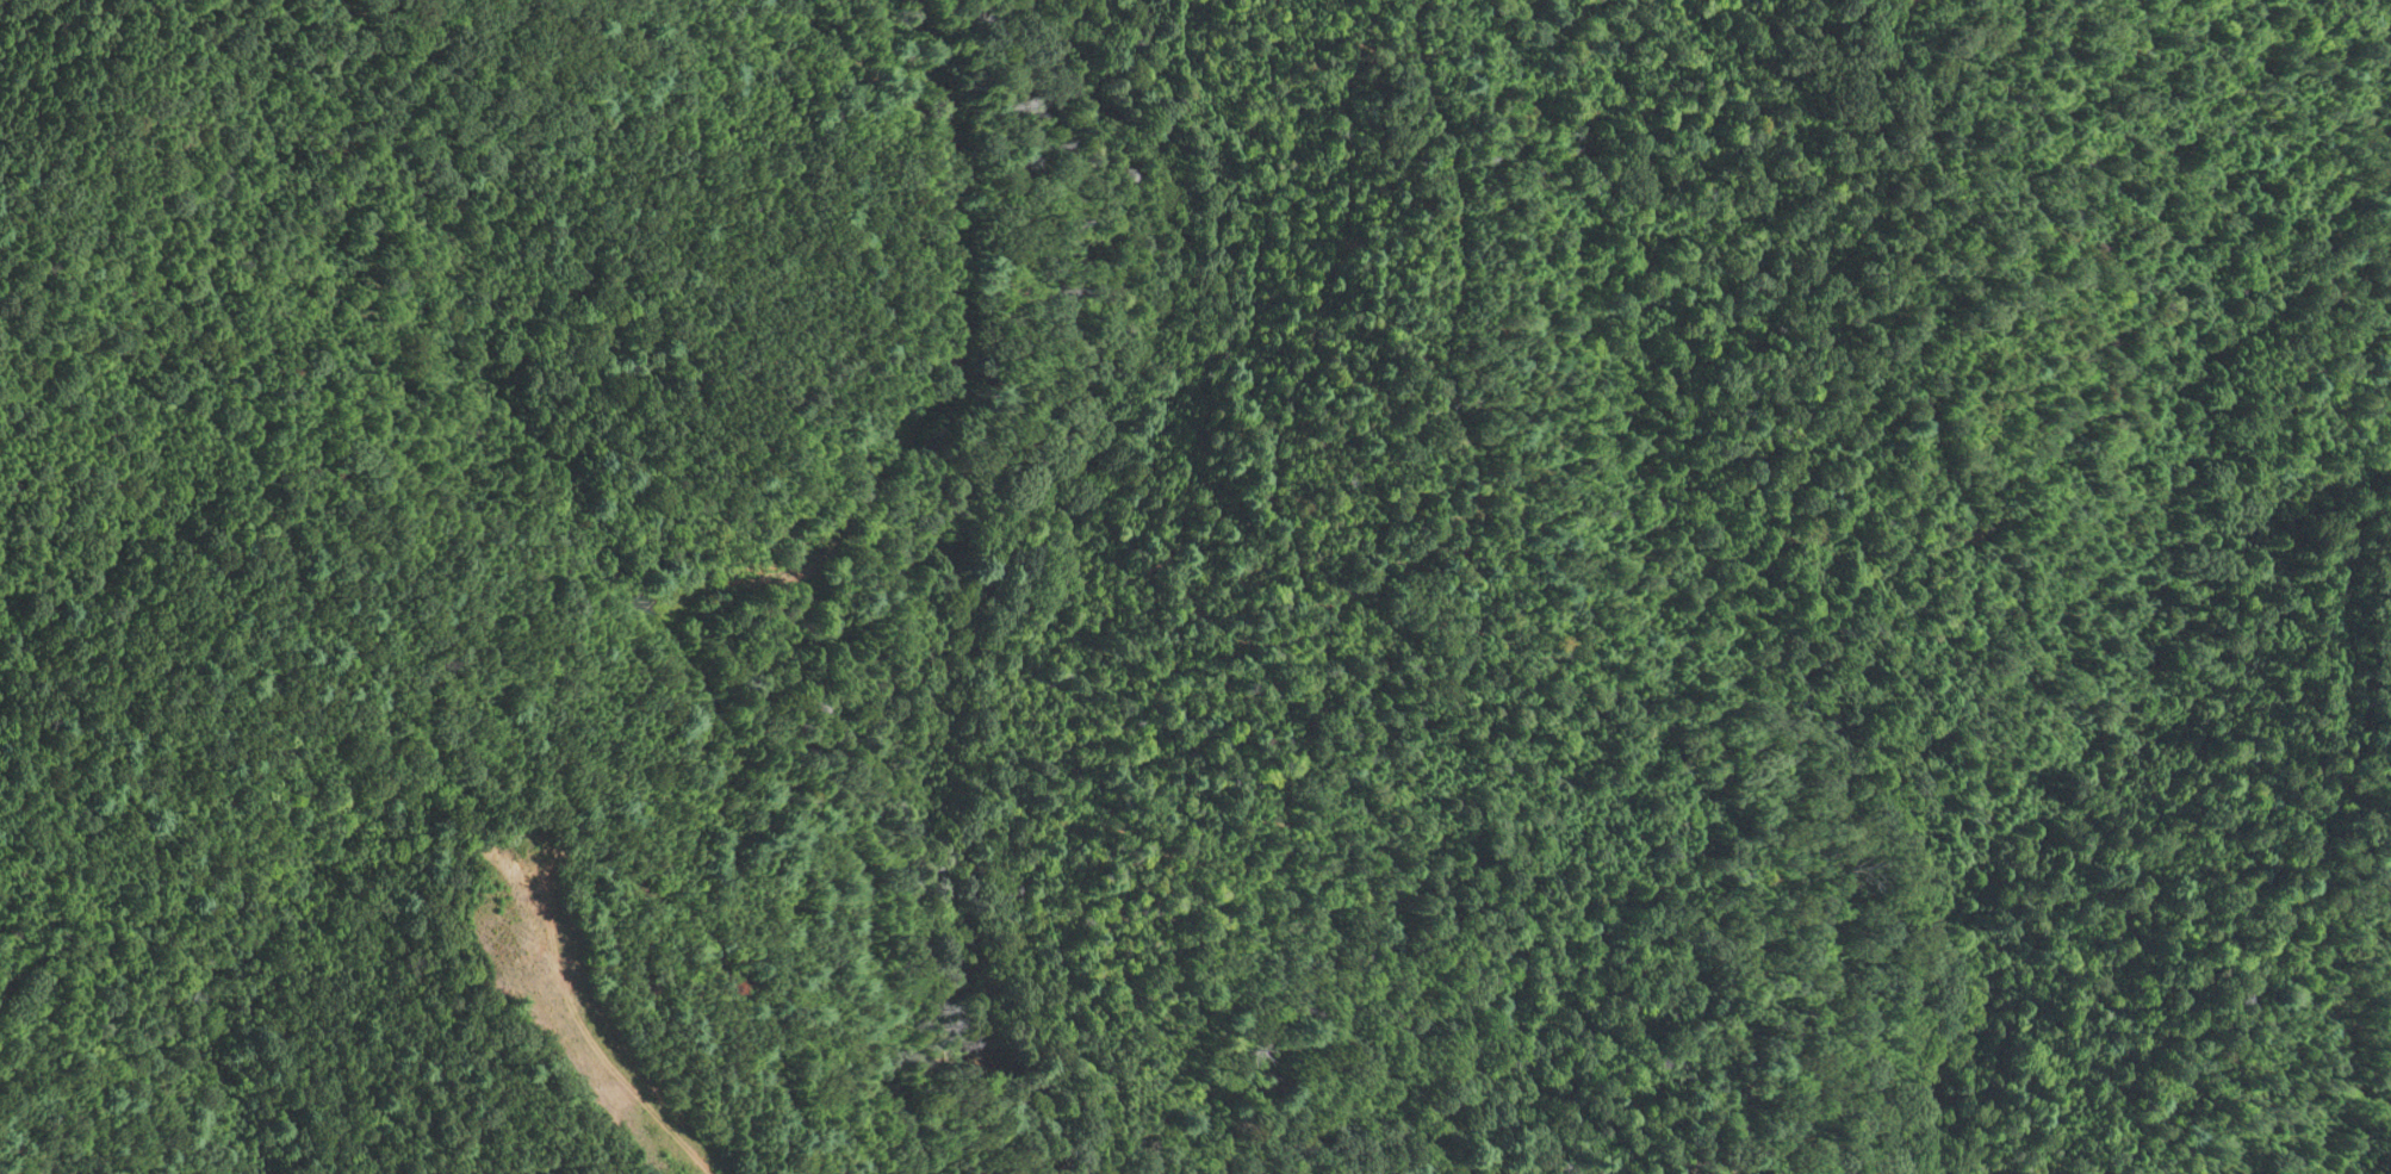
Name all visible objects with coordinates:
park: (1197, 586)

